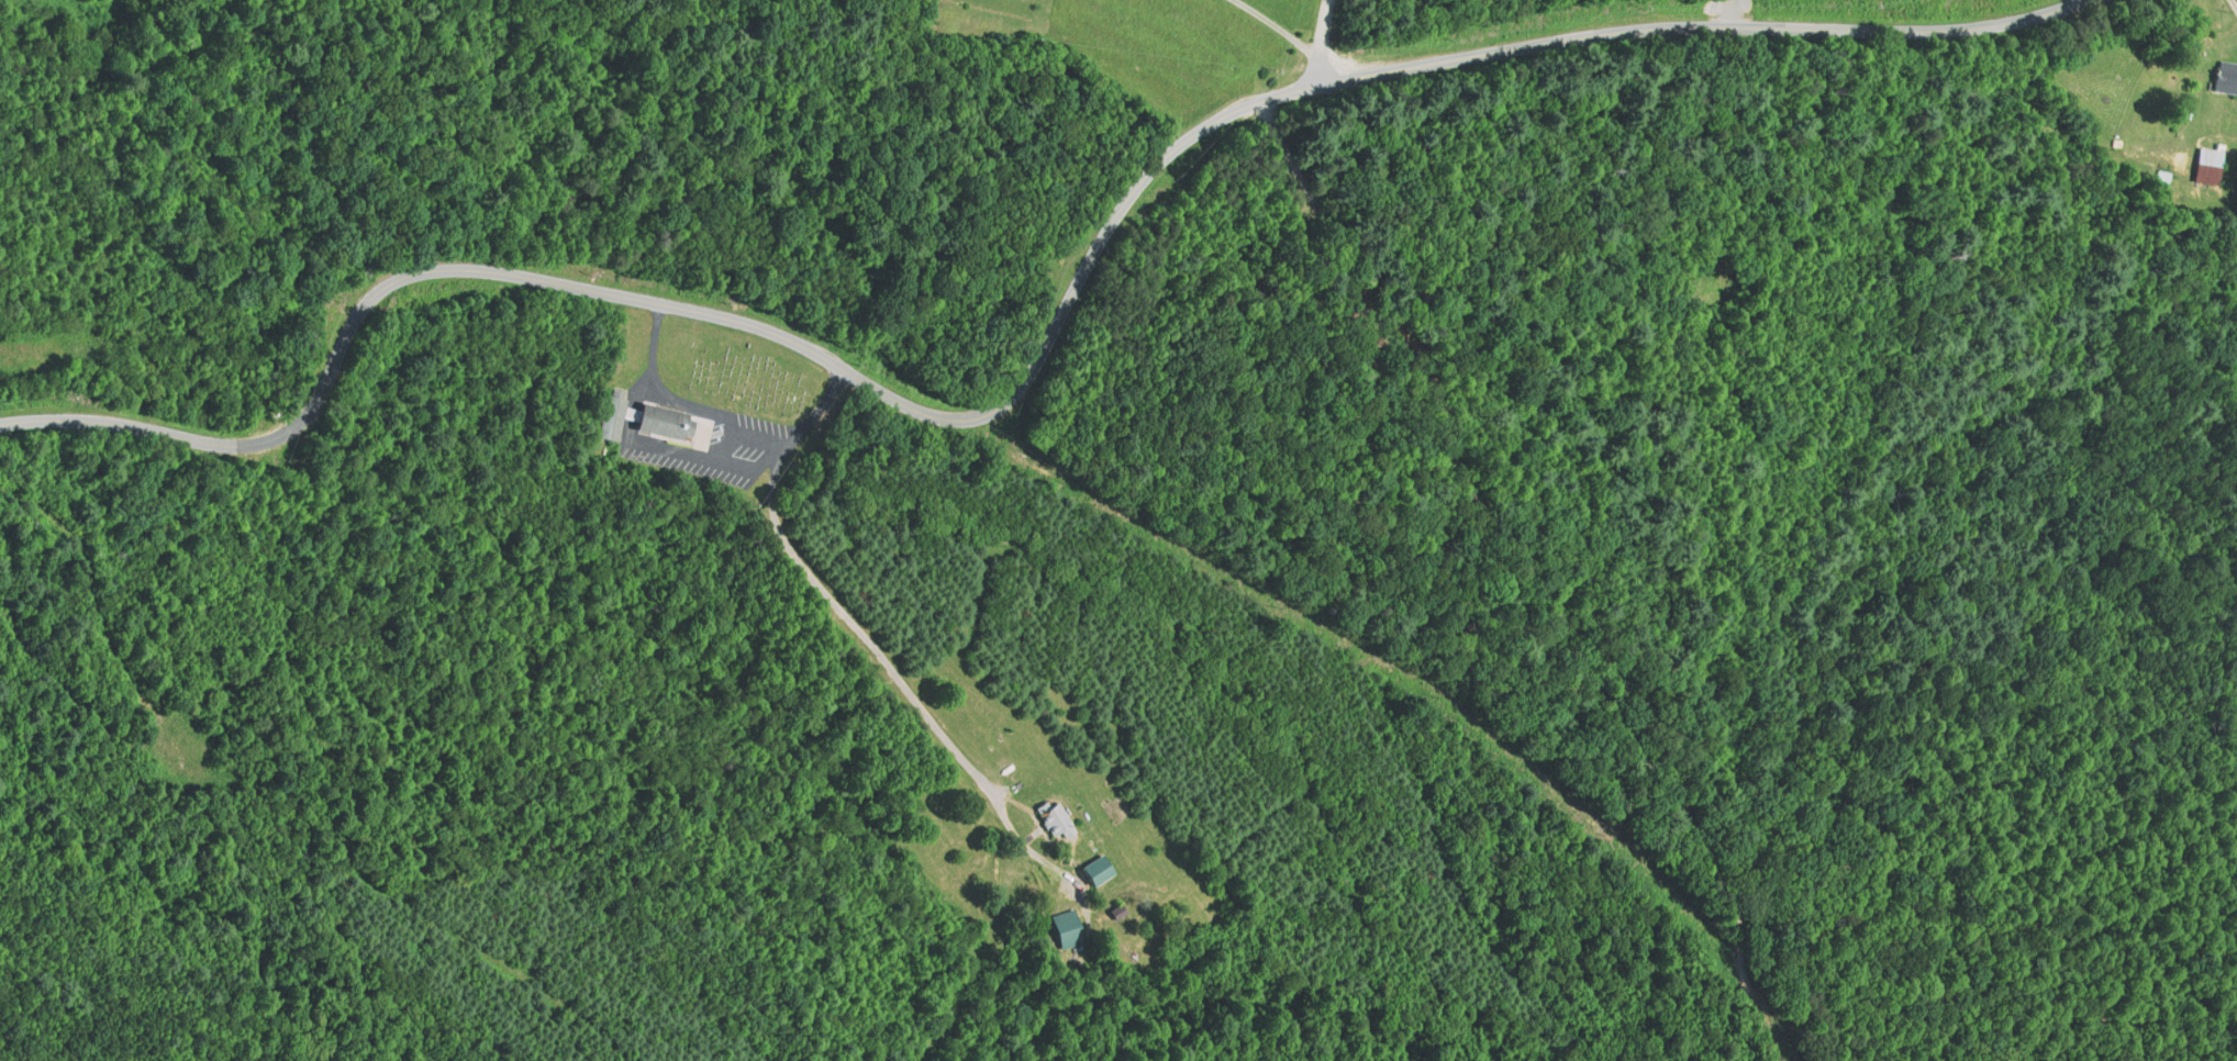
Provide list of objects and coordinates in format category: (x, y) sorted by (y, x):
road: (2235, 2)
road: (1277, 25)
road: (1321, 43)
building: (2225, 78)
building: (2207, 166)
road: (1035, 358)
park: (738, 369)
building: (611, 418)
building: (665, 423)
road: (726, 425)
road: (1524, 573)
road: (909, 693)
building: (1054, 819)
building: (1095, 869)
building: (1066, 936)

